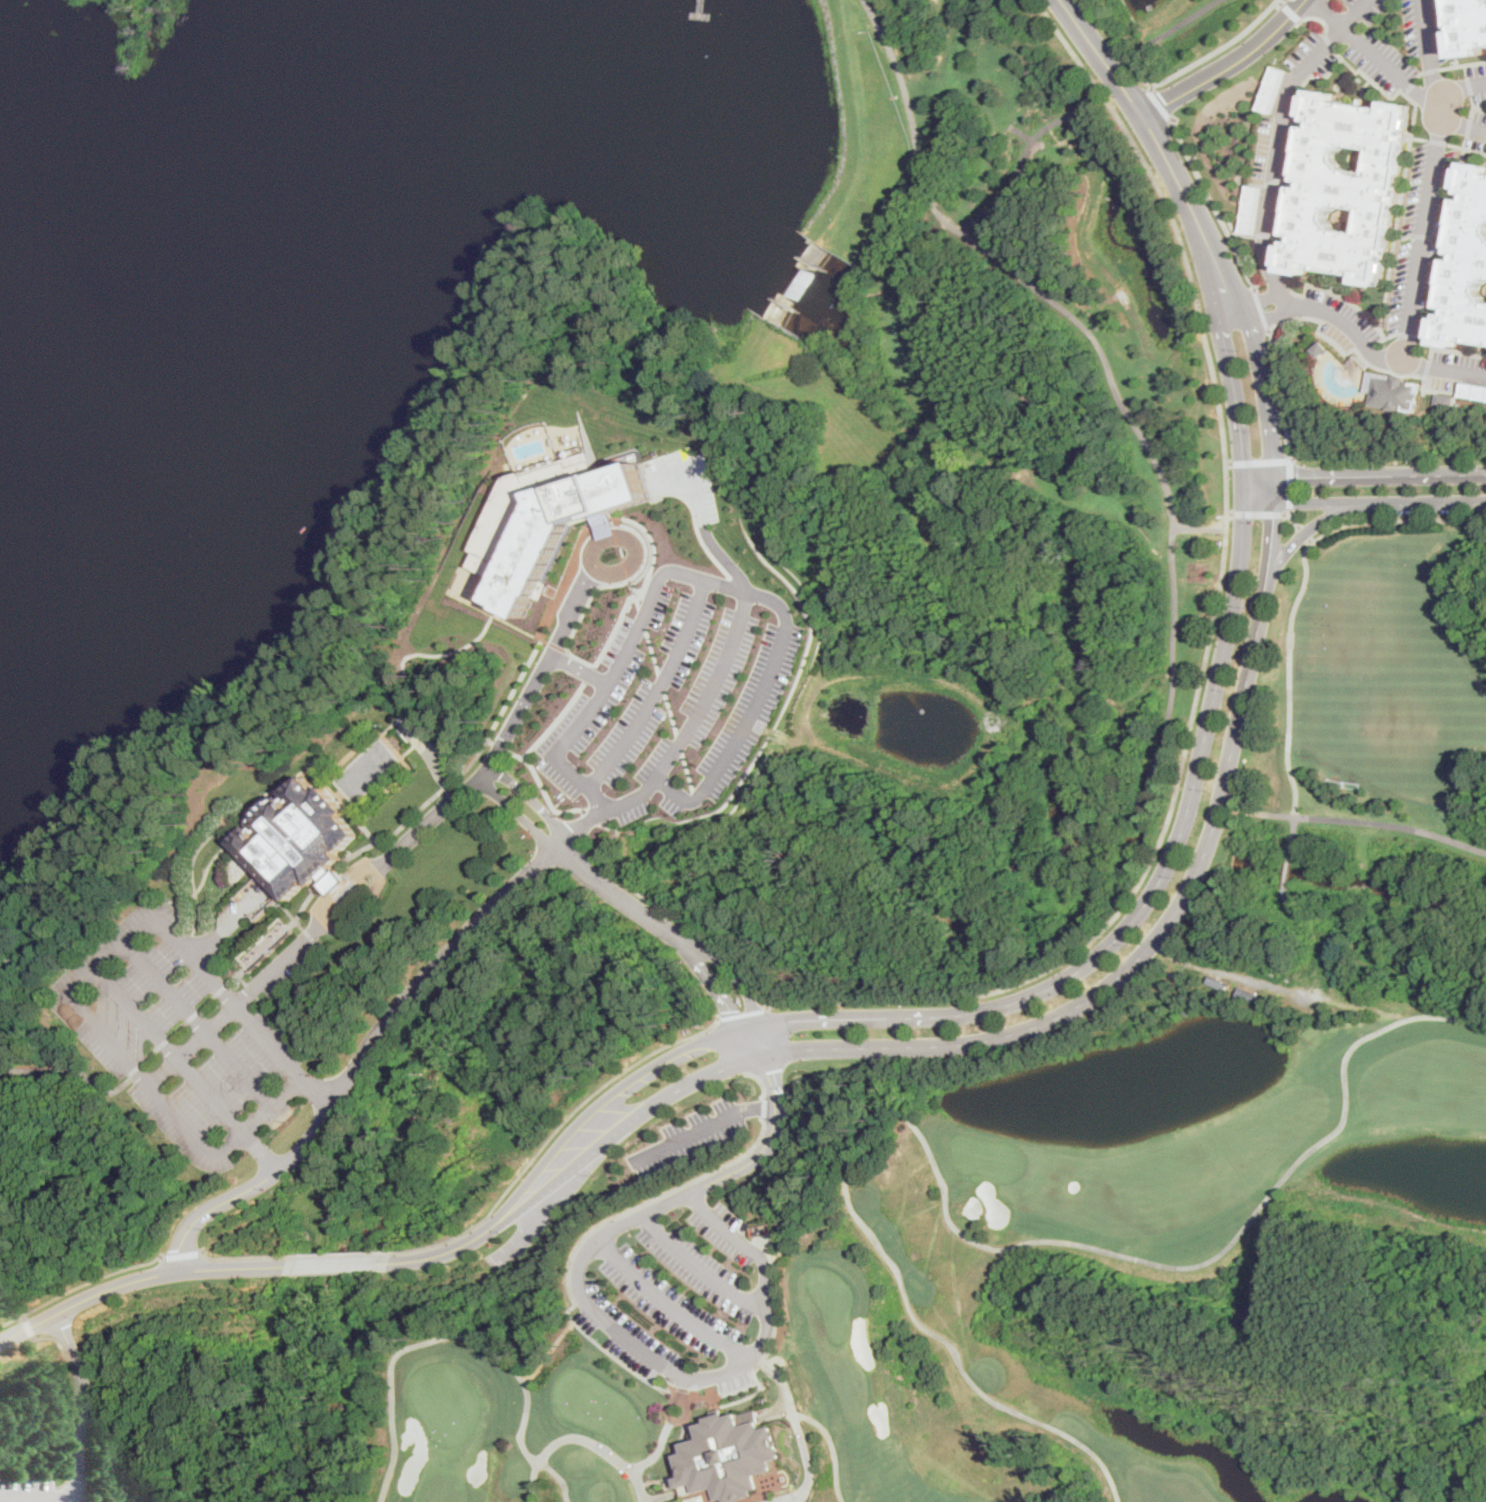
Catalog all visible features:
parking lot: (1347, 1)
road: (1281, 2)
pier: (703, 7)
parking lot: (1373, 10)
road: (1291, 12)
road: (1329, 13)
pier: (702, 14)
road: (1316, 16)
road: (1179, 23)
parking lot: (1410, 26)
building: (1469, 27)
parking lot: (1438, 30)
road: (1450, 32)
road: (1327, 40)
parking lot: (1302, 46)
road: (1219, 51)
parking lot: (1391, 51)
road: (1336, 52)
road: (1109, 55)
road: (1427, 55)
road: (1470, 62)
parking lot: (1324, 64)
road: (1232, 65)
road: (1445, 66)
parking lot: (1369, 68)
road: (1390, 69)
road: (1428, 69)
parking lot: (1476, 69)
road: (1463, 70)
road: (1311, 74)
road: (1416, 74)
road: (947, 75)
road: (1466, 84)
road: (1407, 86)
parking lot: (1271, 88)
building: (1272, 88)
road: (1359, 89)
road: (1460, 89)
road: (943, 95)
parking lot: (1479, 96)
road: (1015, 103)
road: (1165, 104)
park: (1480, 104)
road: (1469, 106)
road: (1474, 106)
parking lot: (1477, 116)
road: (1461, 125)
road: (1465, 126)
road: (1417, 138)
road: (1435, 140)
parking lot: (1475, 142)
road: (1458, 147)
parking lot: (1262, 148)
road: (1021, 157)
parking lot: (1287, 165)
road: (1177, 170)
road: (1277, 179)
road: (1256, 184)
building: (1344, 187)
road: (1213, 200)
parking lot: (1251, 208)
building: (1251, 209)
road: (1057, 219)
road: (1234, 229)
road: (1422, 232)
road: (1263, 234)
road: (1447, 234)
parking lot: (1405, 237)
parking lot: (1433, 240)
road: (1266, 248)
building: (1466, 263)
dam: (791, 277)
road: (1261, 298)
road: (1257, 308)
parking lot: (1342, 311)
road: (1267, 313)
crop: (914, 319)
road: (1316, 319)
road: (1404, 333)
parking lot: (1334, 334)
road: (1422, 336)
road: (1383, 337)
road: (1253, 346)
building: (1319, 348)
road: (1364, 349)
road: (1458, 350)
road: (1225, 351)
road: (1429, 352)
road: (1354, 358)
parking lot: (1458, 358)
road: (1107, 365)
road: (1425, 367)
road: (1015, 374)
parking lot: (1443, 382)
building: (1473, 390)
parking lot: (1473, 390)
building: (1392, 392)
building: (1445, 399)
road: (928, 420)
road: (1254, 461)
road: (1363, 474)
road: (1285, 486)
road: (1298, 502)
road: (1420, 503)
road: (828, 506)
road: (1251, 514)
road: (1288, 516)
road: (1395, 520)
building: (550, 521)
road: (609, 522)
building: (607, 525)
road: (695, 527)
road: (1199, 528)
road: (705, 529)
road: (1265, 530)
road: (615, 534)
road: (1303, 534)
road: (1299, 535)
road: (620, 552)
road: (1164, 554)
road: (625, 569)
road: (614, 574)
road: (629, 581)
road: (733, 582)
road: (746, 590)
road: (634, 596)
road: (636, 602)
road: (621, 608)
road: (1052, 617)
road: (641, 618)
road: (1211, 629)
road: (556, 646)
road: (652, 651)
road: (548, 654)
road: (577, 669)
road: (588, 673)
road: (521, 674)
road: (919, 675)
road: (1290, 677)
road: (662, 683)
road: (657, 690)
road: (711, 690)
road: (1136, 692)
road: (1087, 693)
parking lot: (677, 695)
road: (672, 713)
road: (555, 720)
road: (758, 724)
road: (405, 734)
road: (184, 736)
road: (491, 741)
road: (681, 743)
road: (501, 746)
road: (392, 750)
road: (432, 754)
road: (690, 772)
road: (545, 789)
road: (698, 795)
road: (270, 798)
road: (533, 800)
road: (443, 809)
road: (519, 814)
road: (596, 817)
road: (1369, 822)
road: (1293, 834)
building: (298, 841)
road: (194, 856)
road: (1288, 868)
road: (330, 876)
building: (337, 883)
road: (626, 896)
road: (1152, 899)
road: (1286, 901)
road: (168, 904)
road: (669, 910)
road: (289, 914)
road: (319, 925)
road: (278, 935)
road: (216, 936)
road: (308, 936)
building: (258, 949)
road: (741, 974)
road: (85, 980)
building: (1220, 982)
road: (721, 986)
road: (1282, 986)
building: (1247, 995)
road: (272, 1001)
road: (231, 1003)
road: (748, 1014)
road: (198, 1024)
road: (1017, 1032)
road: (173, 1033)
parking lot: (187, 1035)
road: (374, 1037)
road: (732, 1045)
road: (186, 1071)
road: (757, 1080)
road: (621, 1091)
road: (761, 1107)
road: (699, 1127)
road: (555, 1133)
road: (761, 1133)
parking lot: (685, 1134)
road: (955, 1224)
parking lot: (719, 1231)
road: (801, 1235)
road: (518, 1236)
road: (463, 1244)
road: (187, 1253)
road: (345, 1253)
road: (249, 1256)
road: (341, 1264)
parking lot: (691, 1269)
road: (691, 1272)
road: (138, 1278)
park: (1001, 1282)
road: (80, 1286)
parking lot: (663, 1305)
road: (661, 1308)
road: (22, 1317)
road: (27, 1327)
parking lot: (621, 1332)
building: (788, 1332)
road: (458, 1335)
road: (592, 1340)
building: (791, 1361)
road: (675, 1372)
road: (76, 1400)
road: (81, 1404)
road: (664, 1404)
building: (799, 1404)
road: (773, 1409)
road: (807, 1416)
road: (680, 1420)
road: (666, 1421)
road: (683, 1422)
road: (576, 1437)
building: (726, 1454)
road: (807, 1462)
building: (695, 1499)
road: (36, 1500)
road: (72, 1501)

